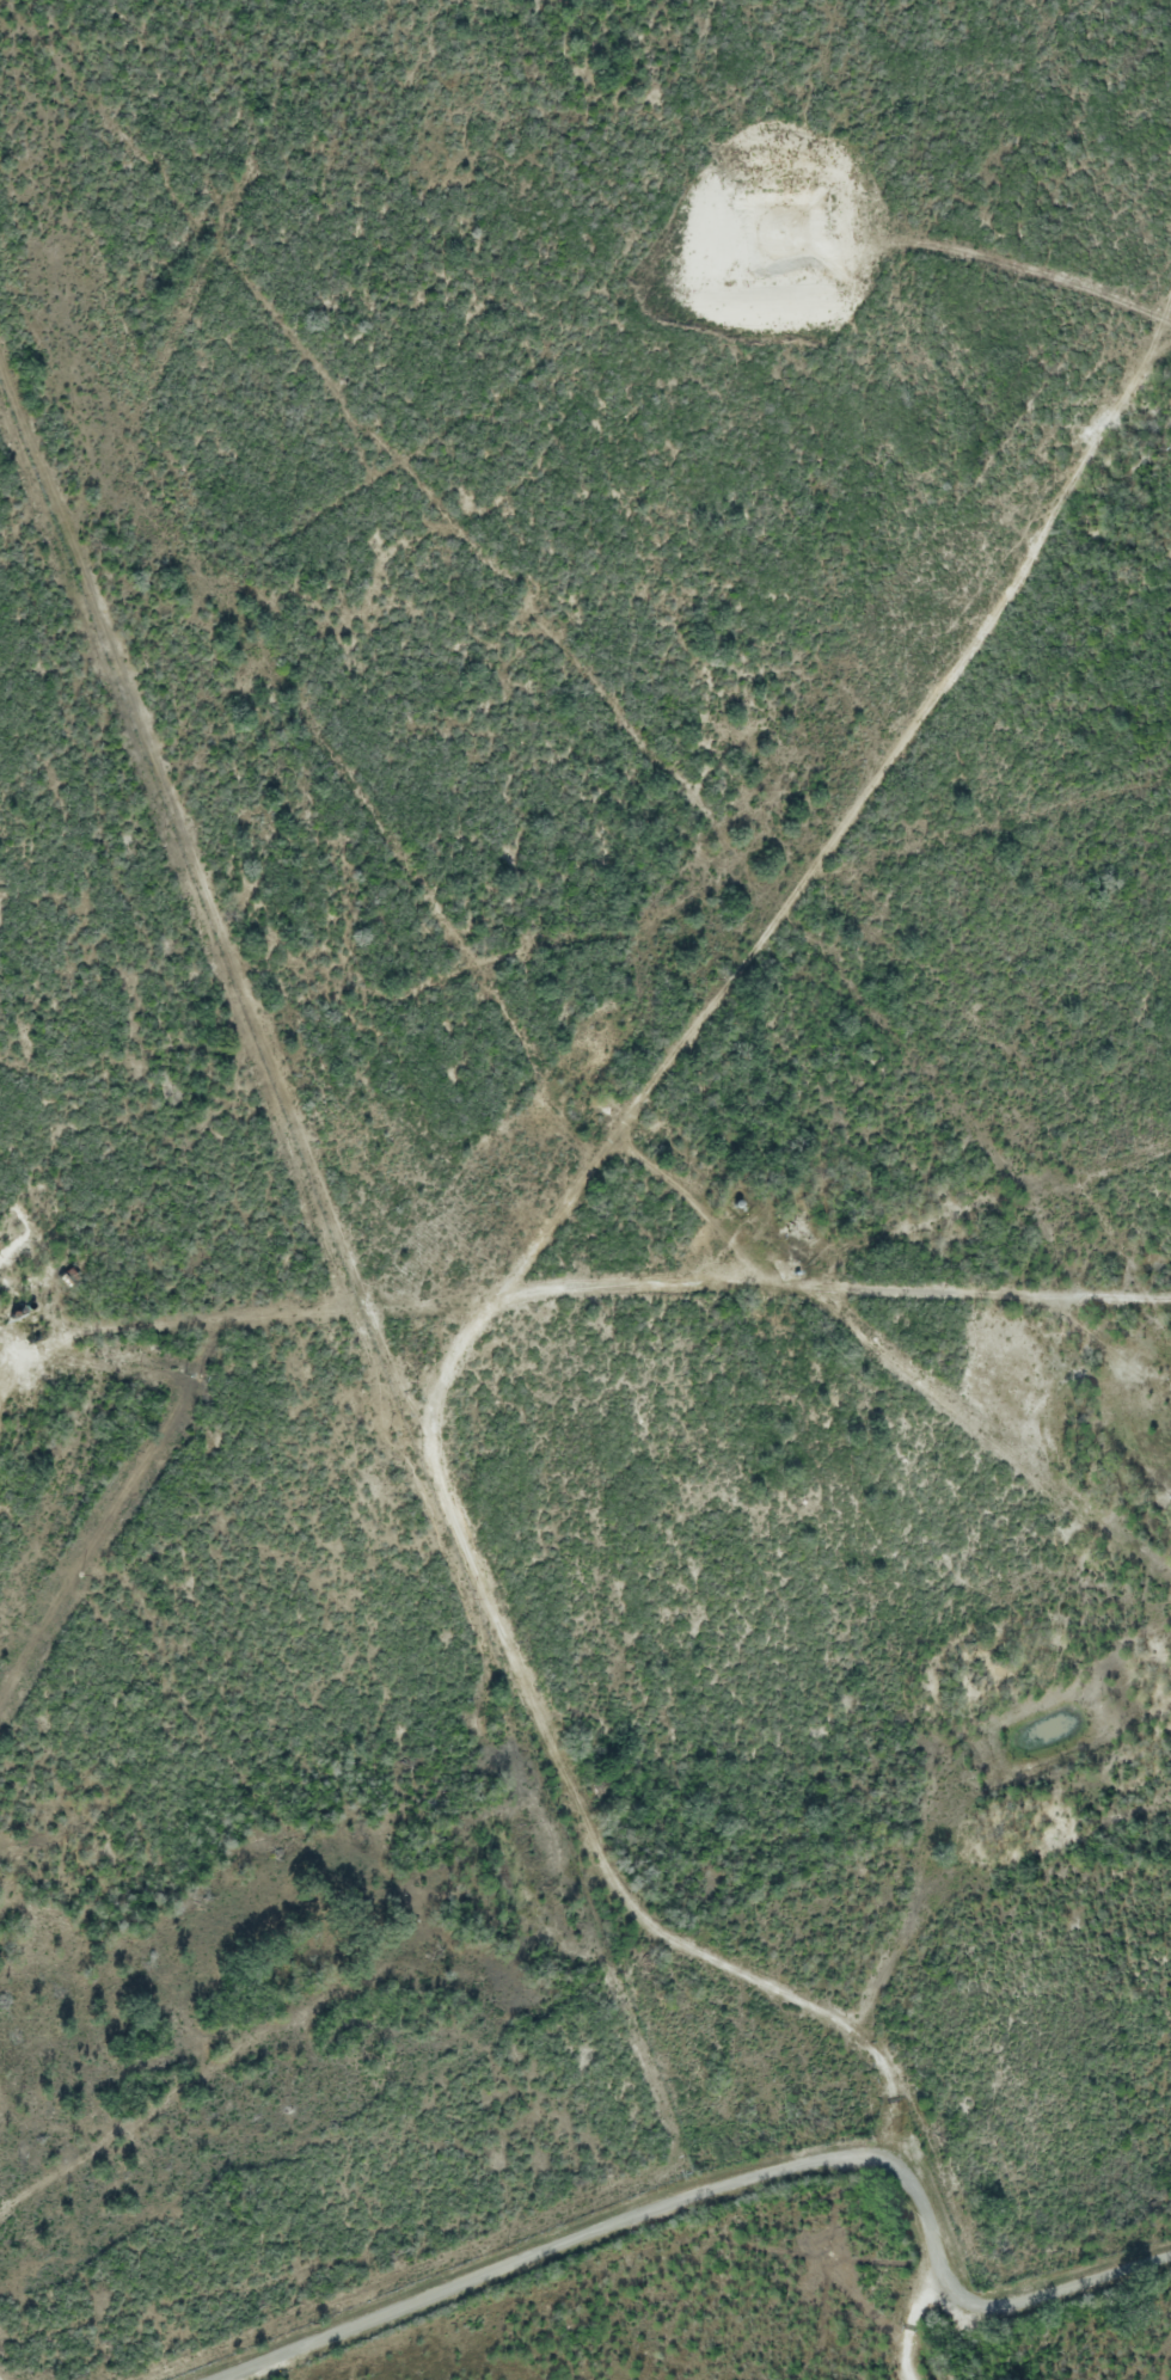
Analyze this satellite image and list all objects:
road: (729, 2186)

